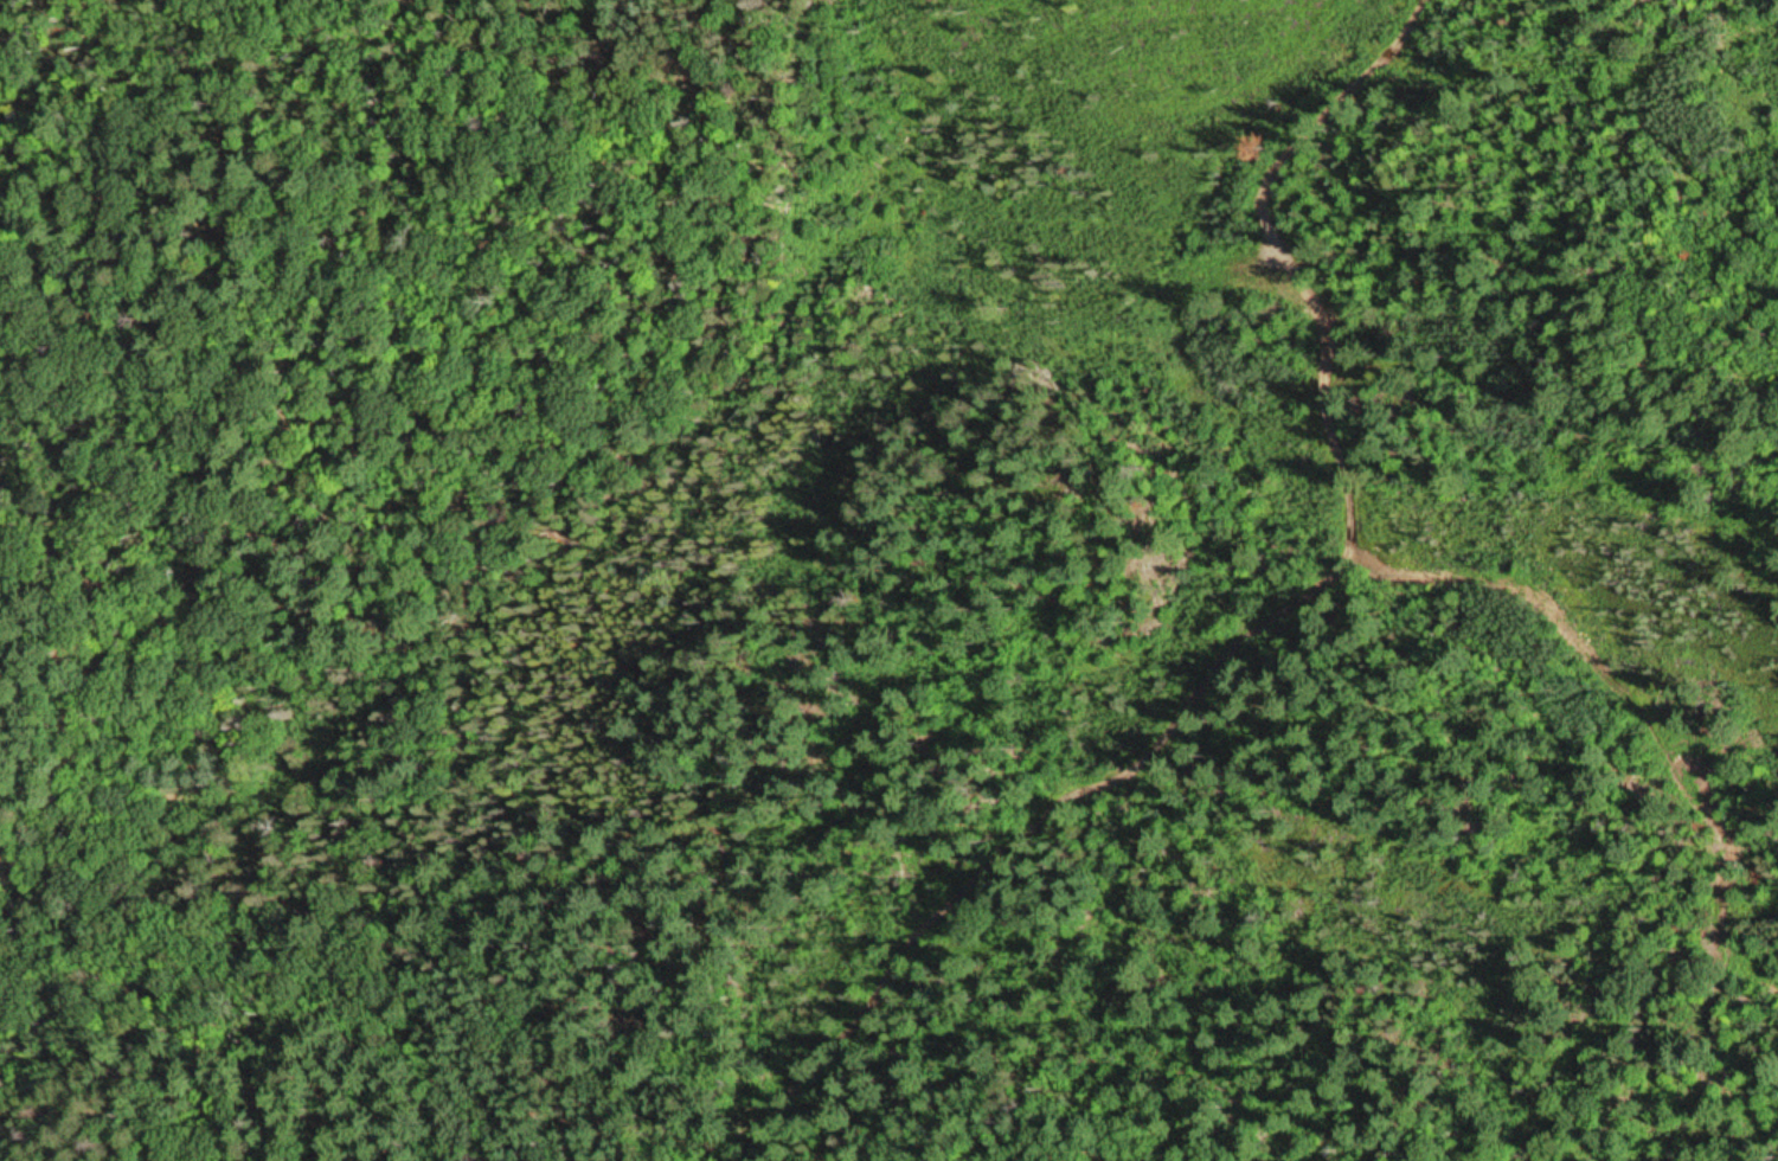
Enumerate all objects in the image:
road: (1265, 618)

